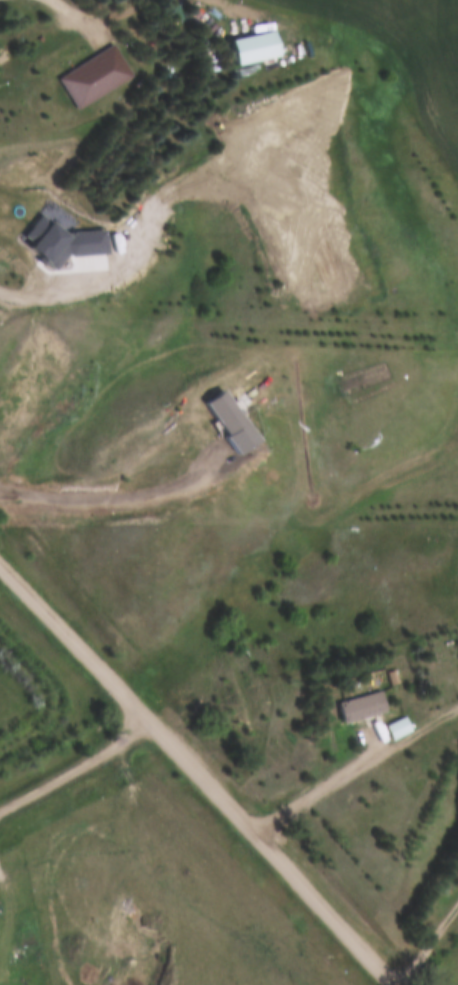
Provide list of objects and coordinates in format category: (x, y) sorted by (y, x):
building: (456, 562)
building: (355, 712)
building: (396, 730)
road: (75, 764)
road: (199, 771)
road: (329, 786)
road: (430, 949)

